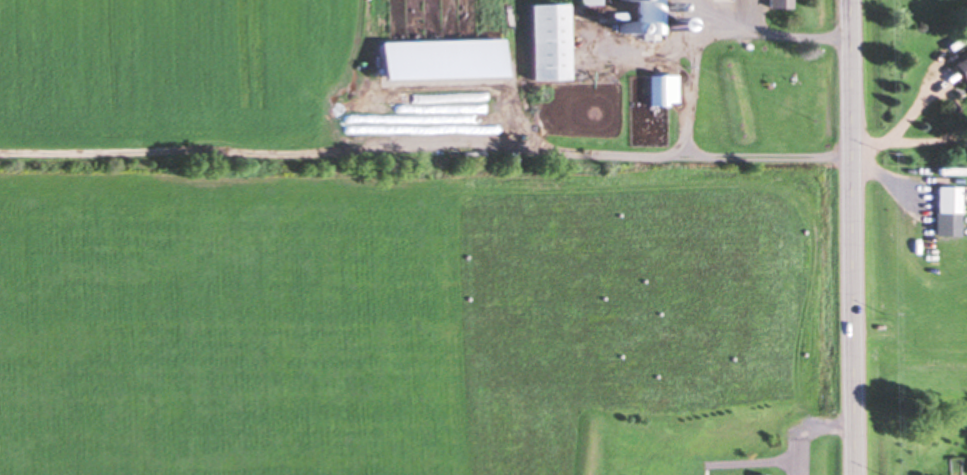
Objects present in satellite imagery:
building: (587, 1)
building: (777, 3)
building: (647, 19)
building: (546, 40)
building: (962, 65)
building: (661, 89)
building: (646, 136)
building: (947, 209)
road: (848, 237)
building: (759, 474)

